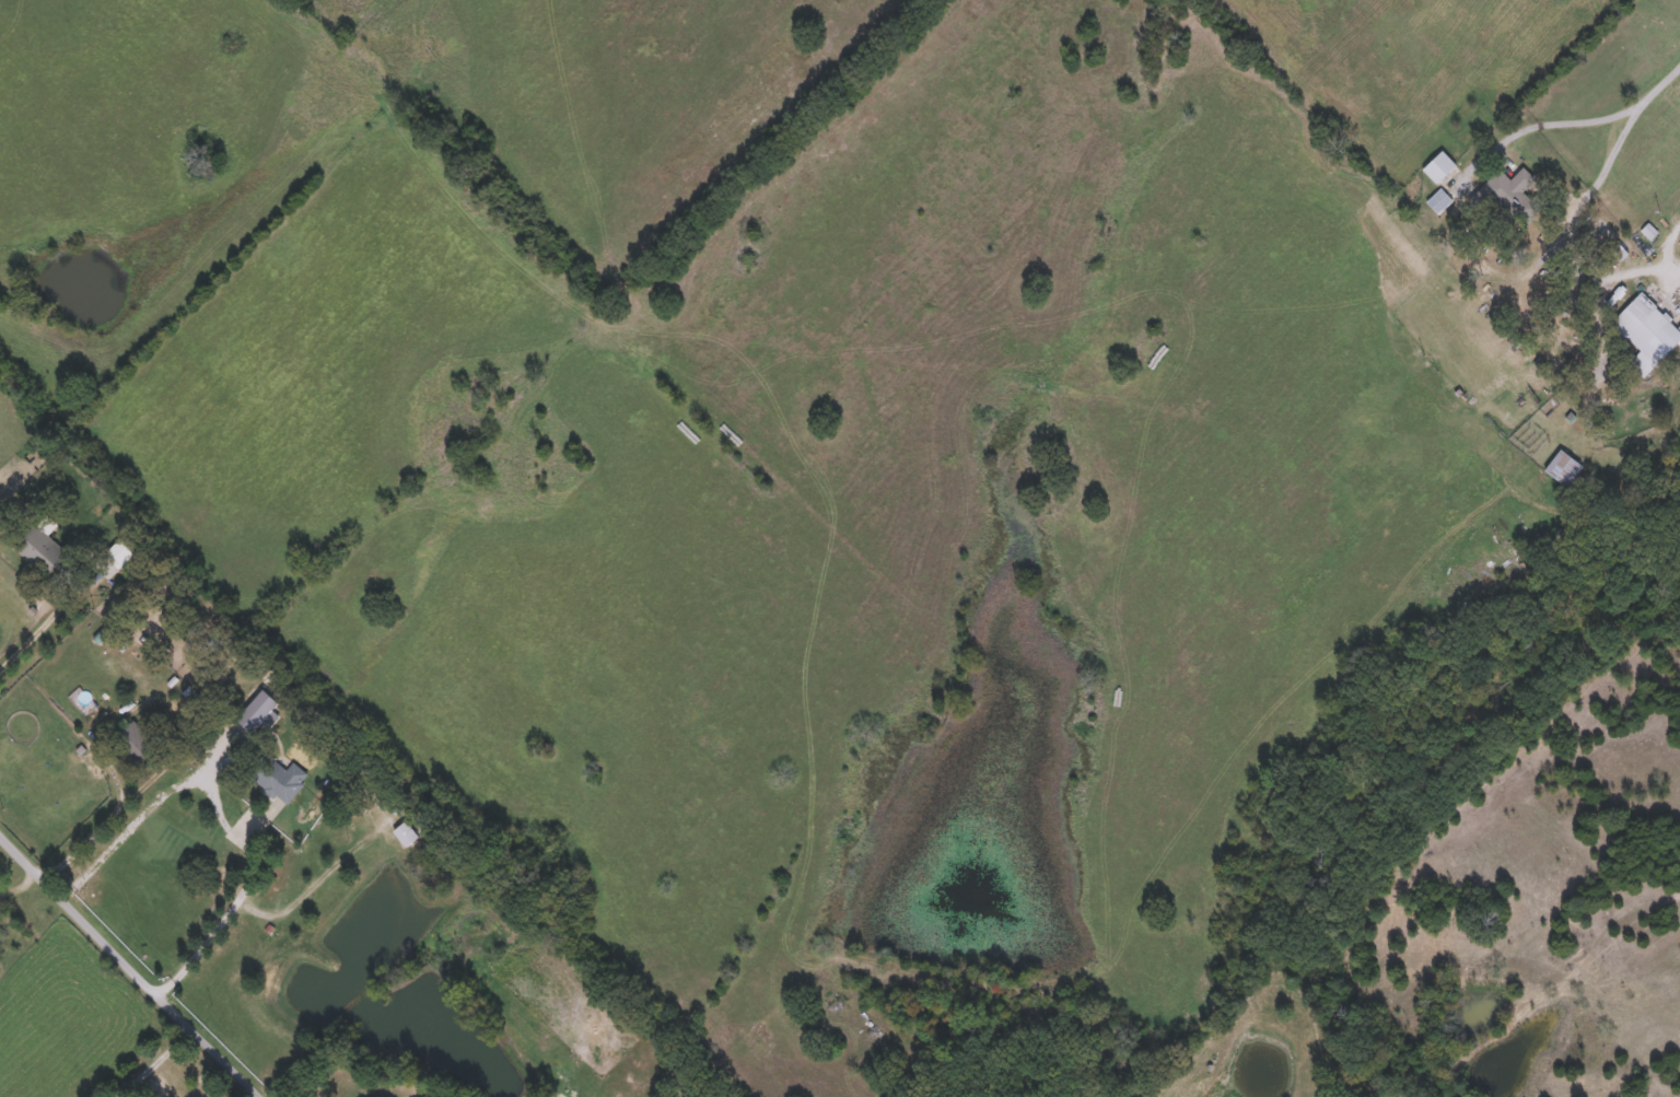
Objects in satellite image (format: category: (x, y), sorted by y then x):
road: (1599, 114)
building: (1439, 165)
building: (1504, 186)
building: (1439, 200)
road: (1668, 244)
building: (1647, 331)
building: (1563, 466)
building: (39, 548)
road: (44, 626)
building: (232, 732)
building: (135, 740)
building: (278, 777)
road: (155, 804)
road: (119, 808)
building: (406, 832)
road: (25, 849)
road: (23, 882)
road: (220, 922)
road: (155, 988)
road: (155, 1061)

